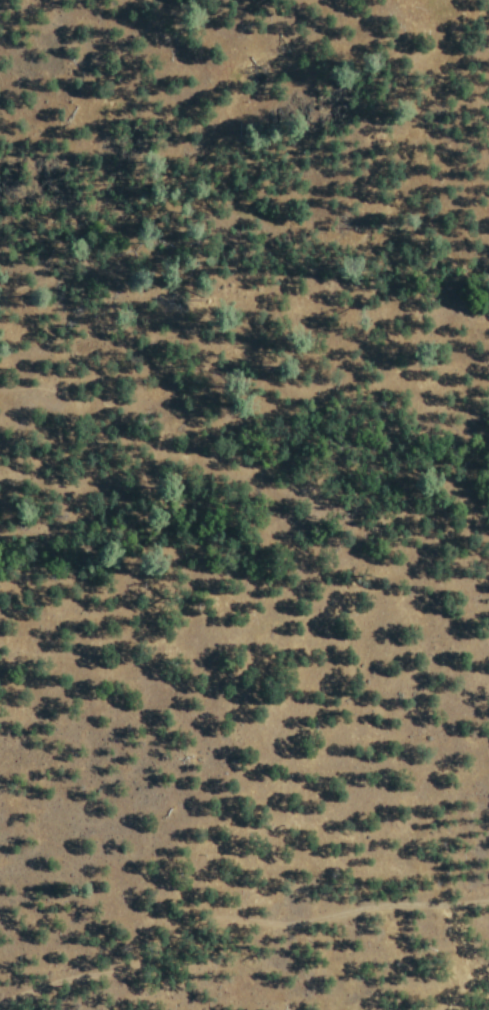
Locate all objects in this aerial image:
road: (236, 920)

